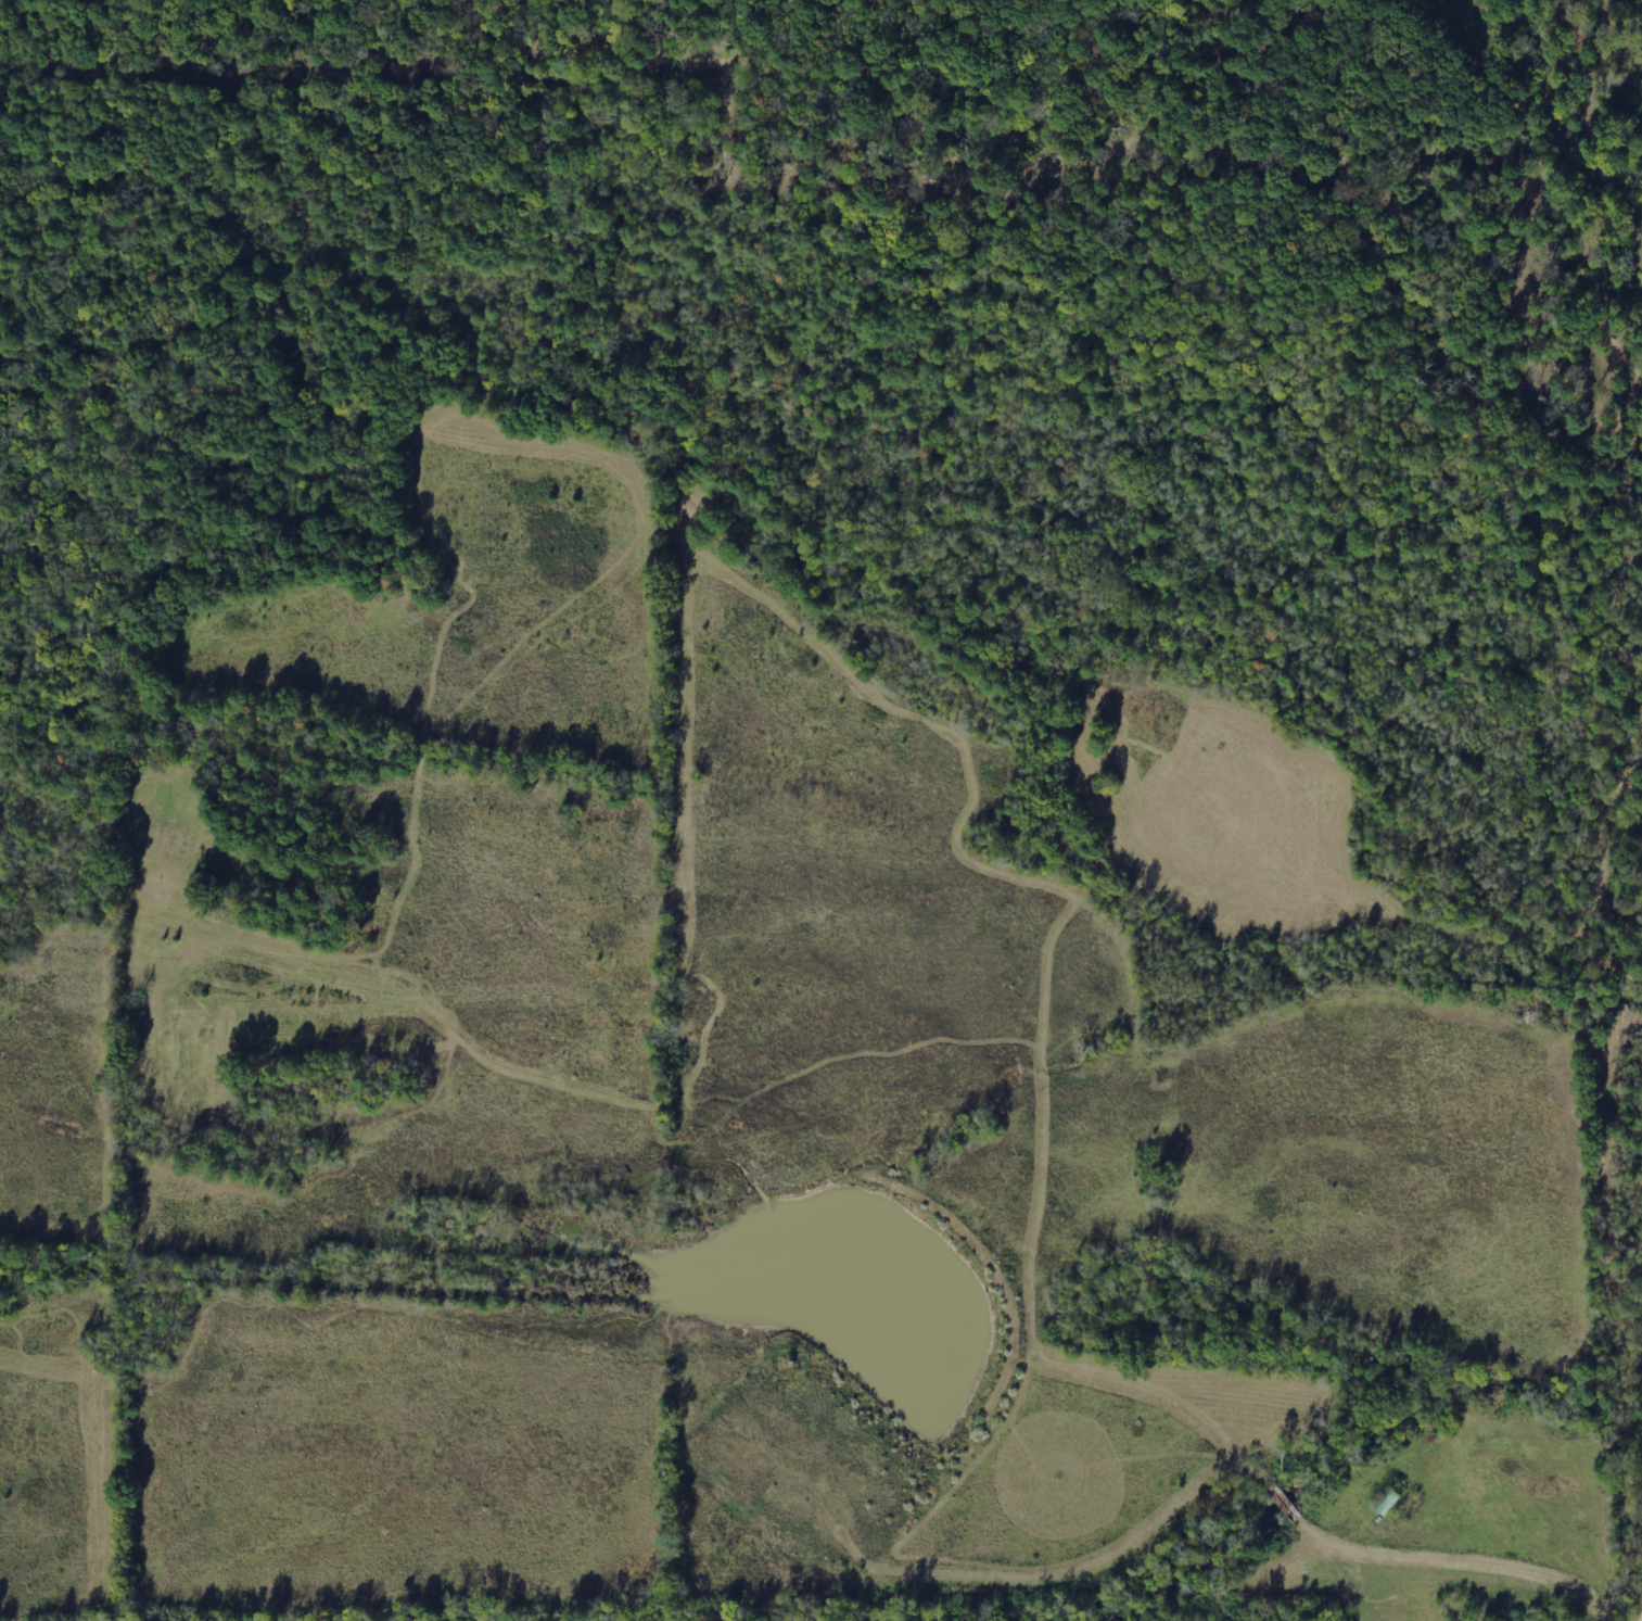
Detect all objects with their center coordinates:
road: (1583, 1494)

